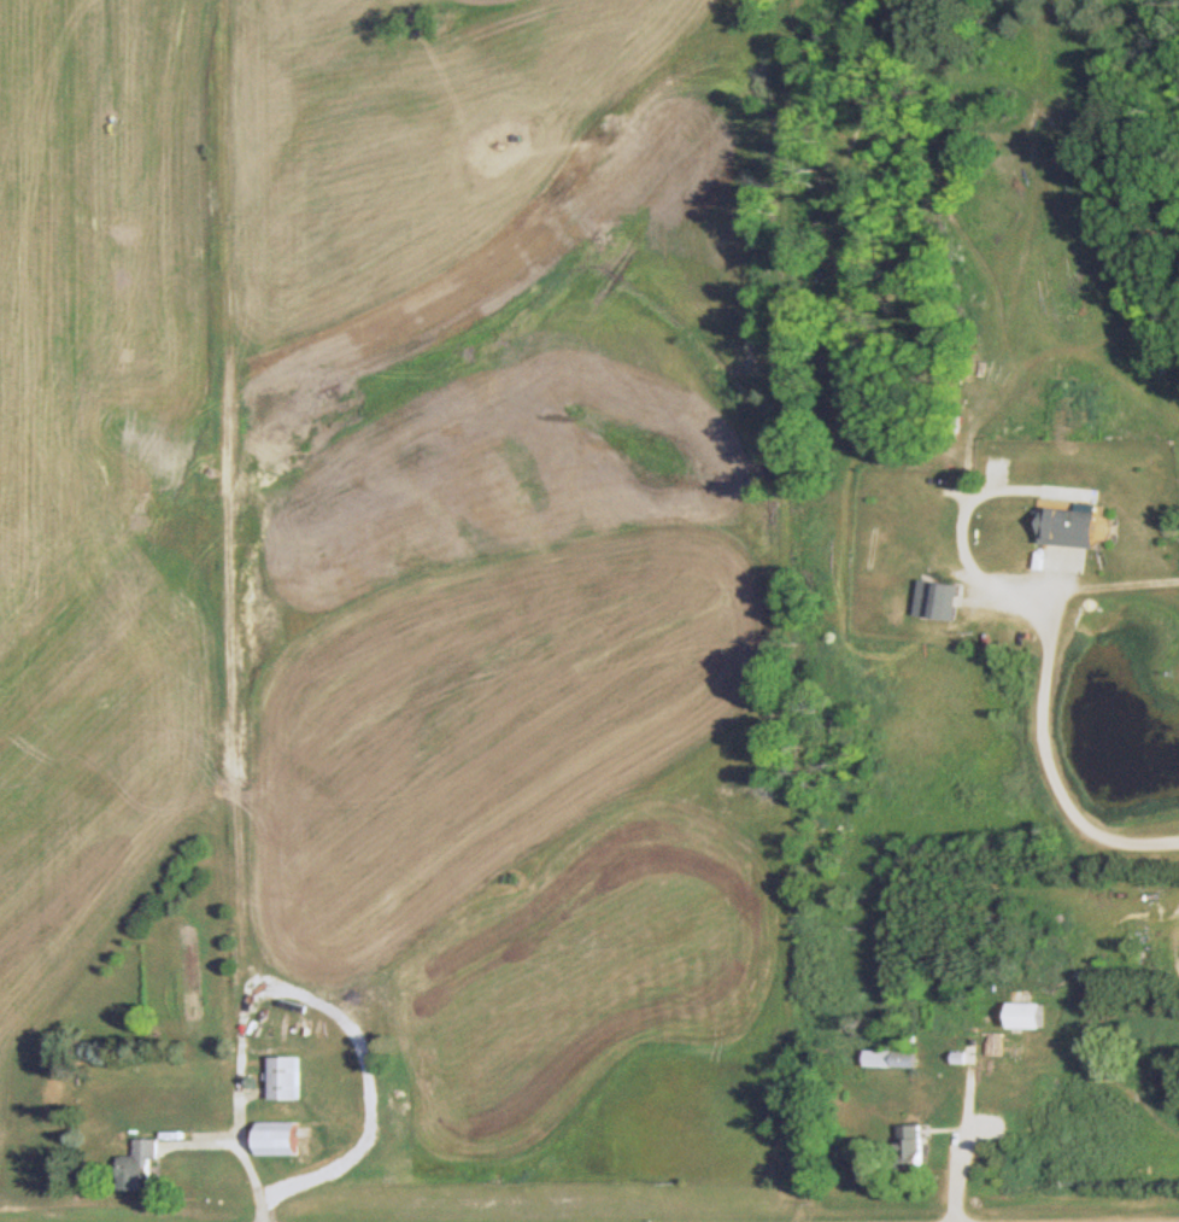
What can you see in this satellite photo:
crop: (95, 503)
building: (1078, 525)
building: (940, 601)
road: (1050, 753)
building: (1032, 1017)
building: (891, 1060)
building: (289, 1080)
building: (285, 1139)
building: (909, 1142)
building: (141, 1165)

